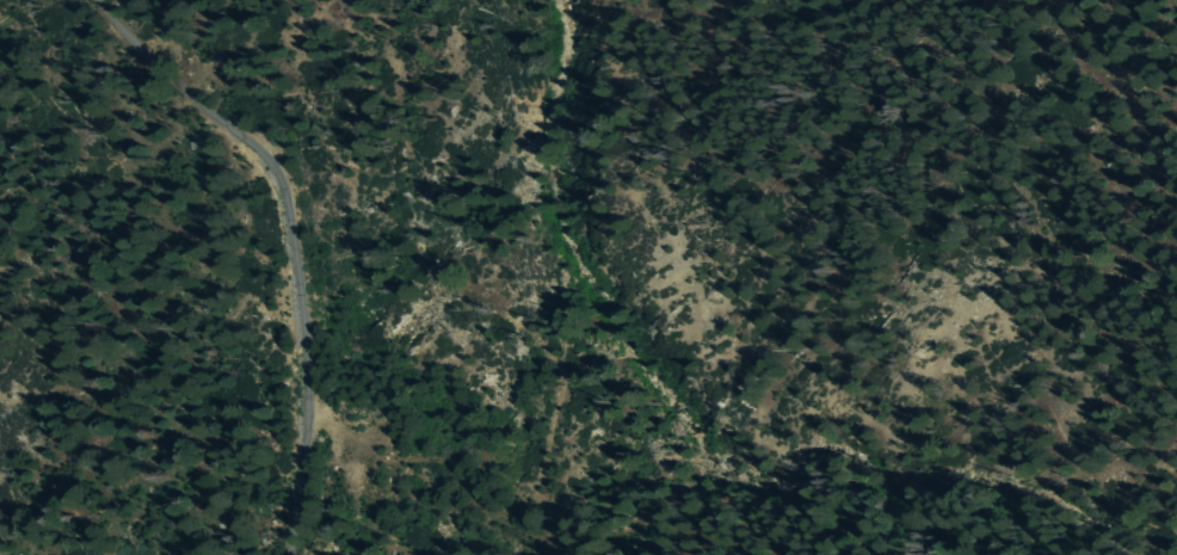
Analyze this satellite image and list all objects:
road: (288, 236)

